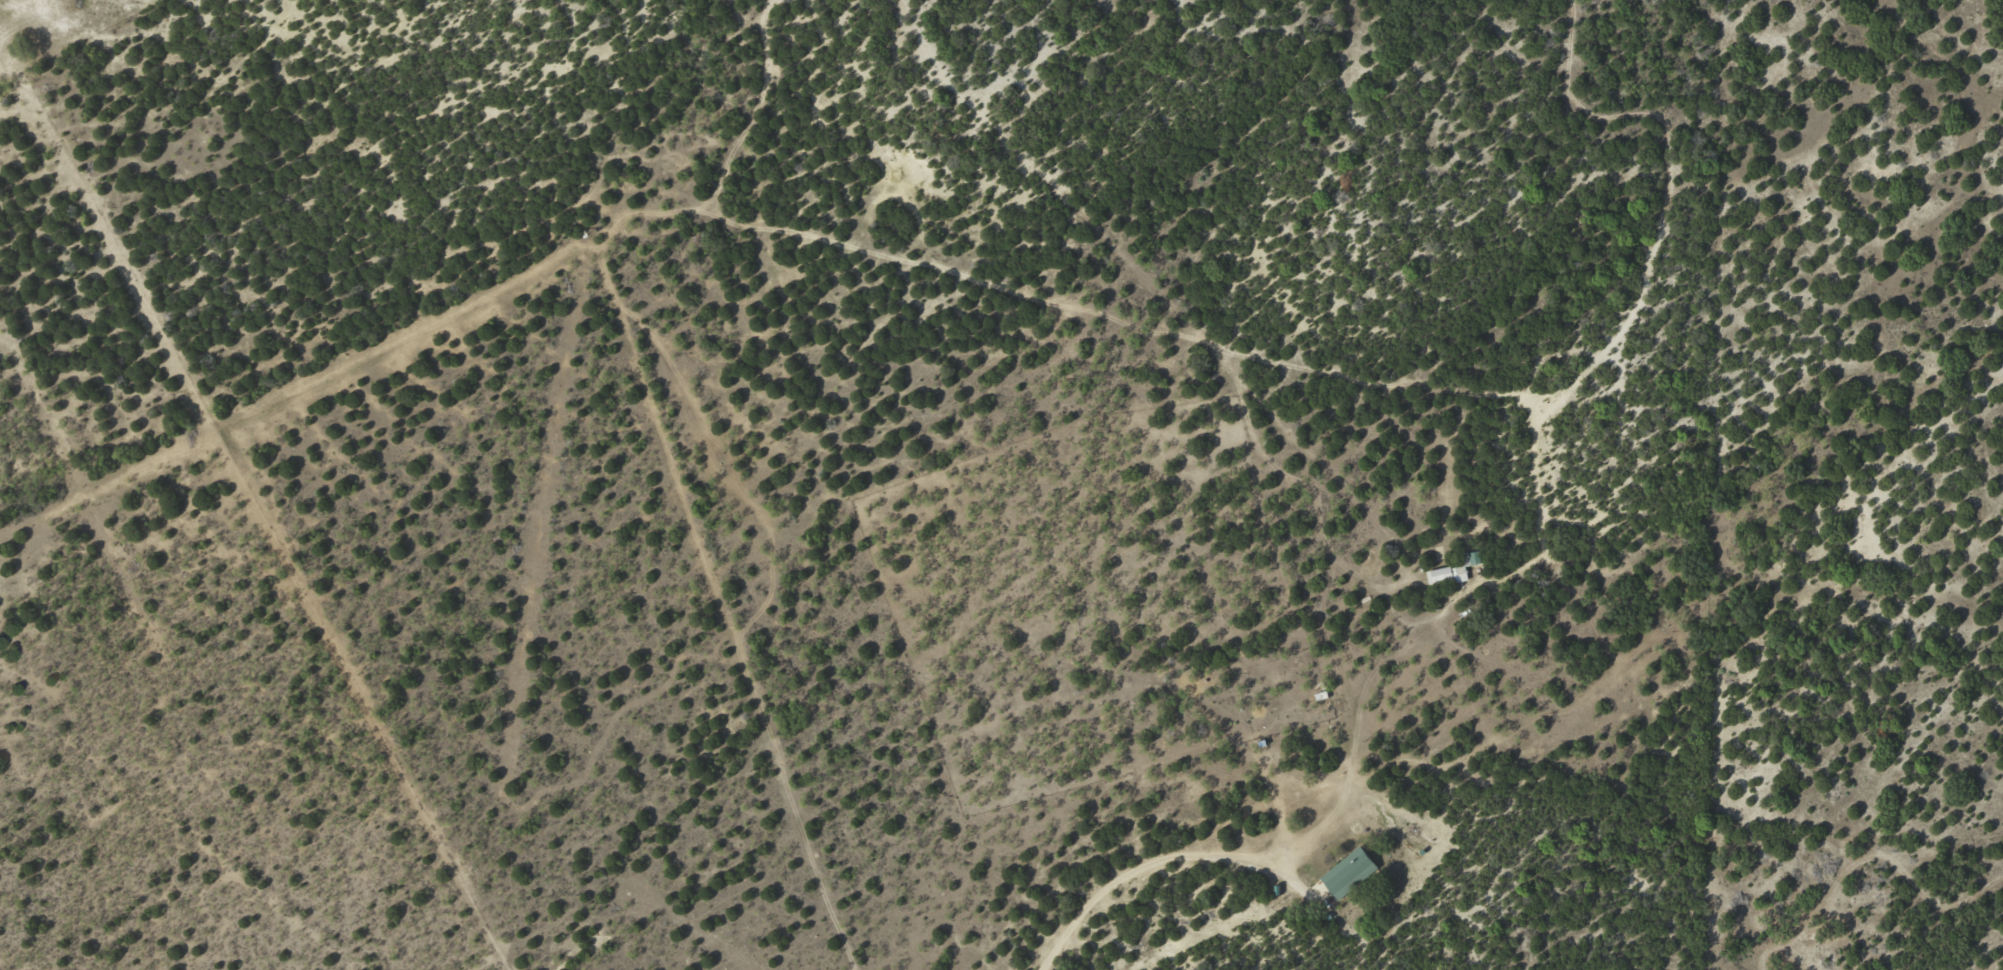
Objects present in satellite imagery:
building: (1458, 575)
road: (1153, 866)
building: (1347, 874)

